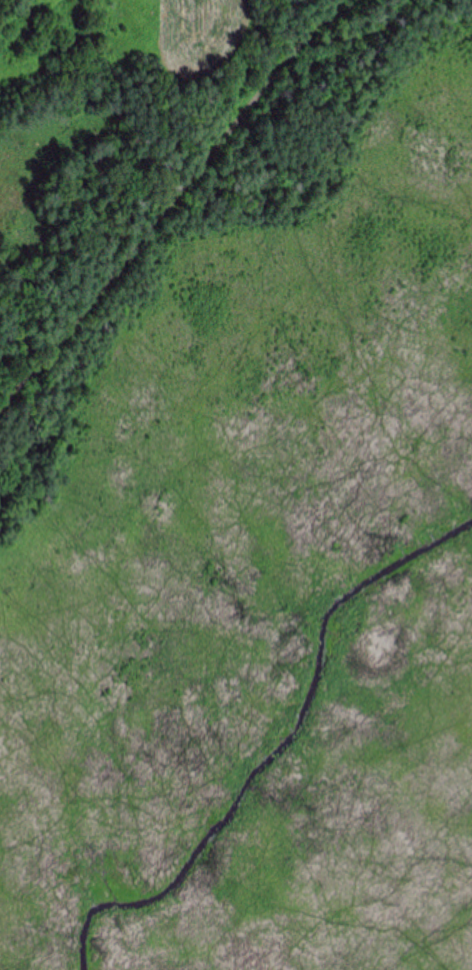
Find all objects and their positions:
road: (168, 207)

